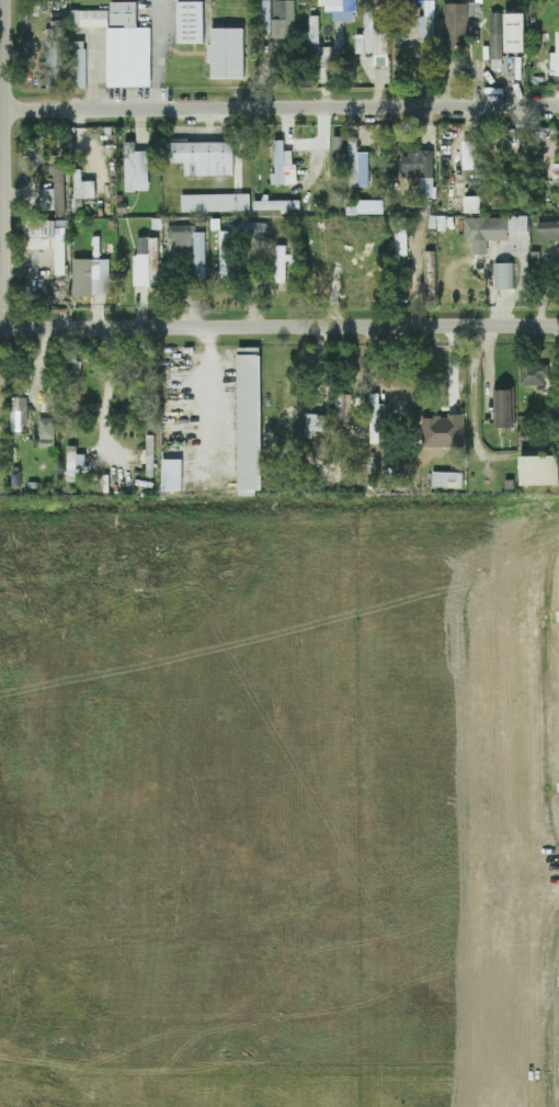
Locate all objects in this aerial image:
building: (340, 10)
building: (262, 11)
building: (92, 19)
building: (423, 19)
building: (282, 20)
building: (189, 23)
building: (456, 23)
building: (312, 30)
building: (512, 33)
building: (494, 42)
building: (372, 44)
building: (125, 48)
road: (156, 54)
building: (225, 54)
building: (324, 55)
building: (554, 57)
building: (64, 65)
road: (281, 108)
building: (335, 149)
building: (468, 156)
building: (202, 158)
road: (3, 163)
building: (415, 165)
building: (356, 166)
building: (282, 167)
building: (134, 169)
building: (555, 174)
building: (81, 187)
building: (52, 194)
building: (214, 203)
building: (470, 205)
building: (274, 206)
building: (251, 228)
building: (492, 228)
building: (547, 230)
building: (46, 240)
building: (187, 246)
building: (223, 256)
building: (145, 262)
building: (278, 264)
building: (502, 276)
building: (89, 278)
road: (278, 326)
building: (532, 375)
road: (109, 394)
building: (502, 409)
building: (248, 421)
building: (315, 422)
building: (44, 432)
building: (442, 432)
building: (148, 456)
building: (72, 461)
building: (537, 471)
building: (170, 475)
building: (445, 481)
road: (290, 515)
road: (543, 687)
road: (274, 885)
road: (294, 973)
road: (16, 978)
road: (548, 989)
road: (19, 1060)
building: (324, 1073)
road: (491, 1073)

